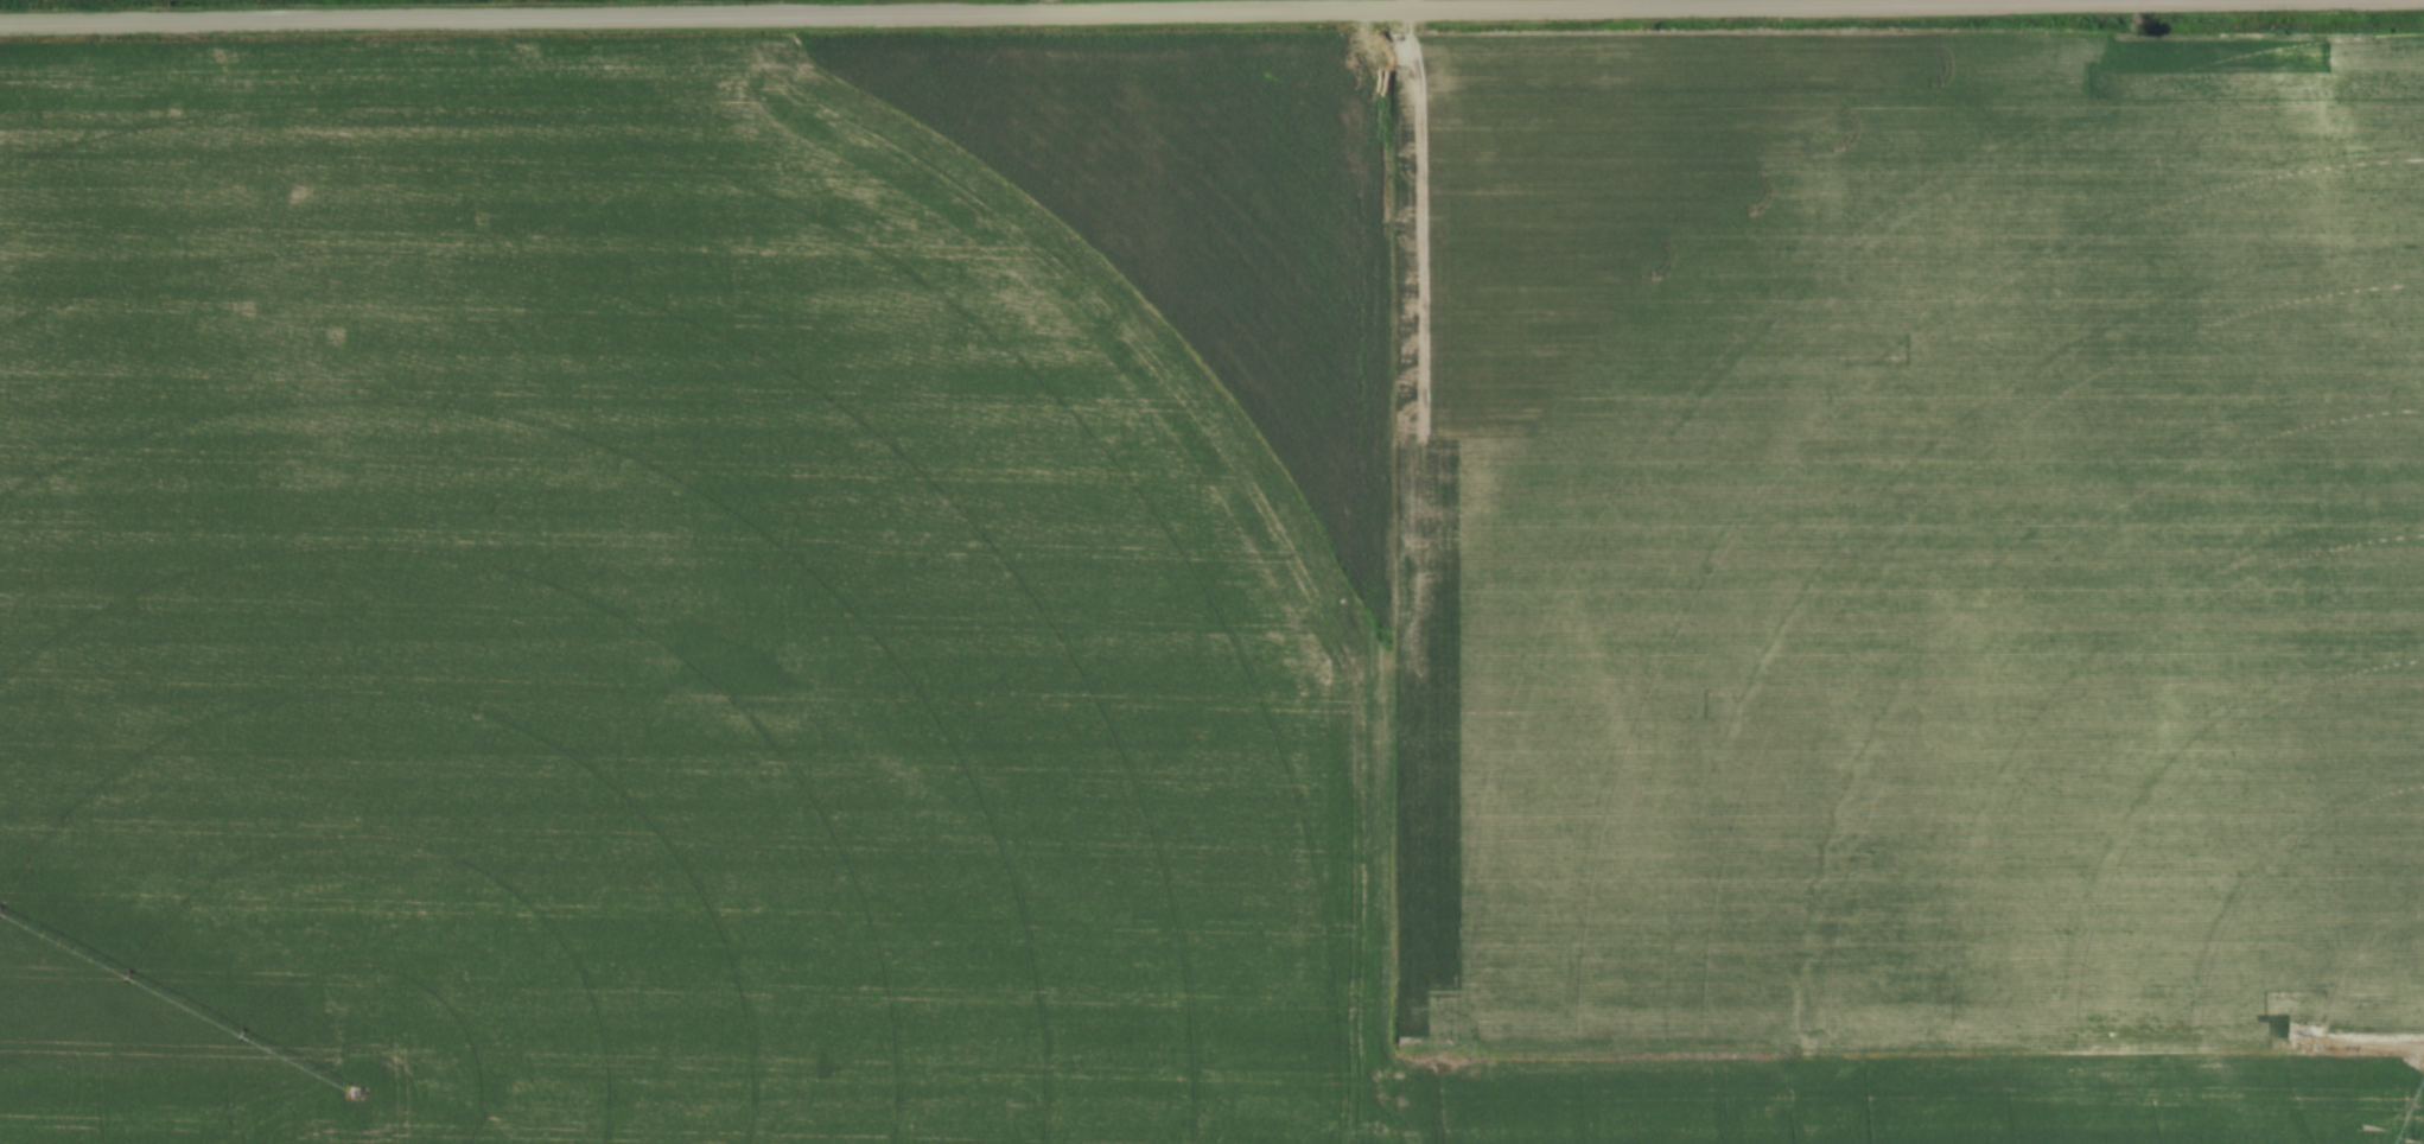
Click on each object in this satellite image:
road: (1211, 15)
crop: (1214, 590)
building: (826, 1059)

